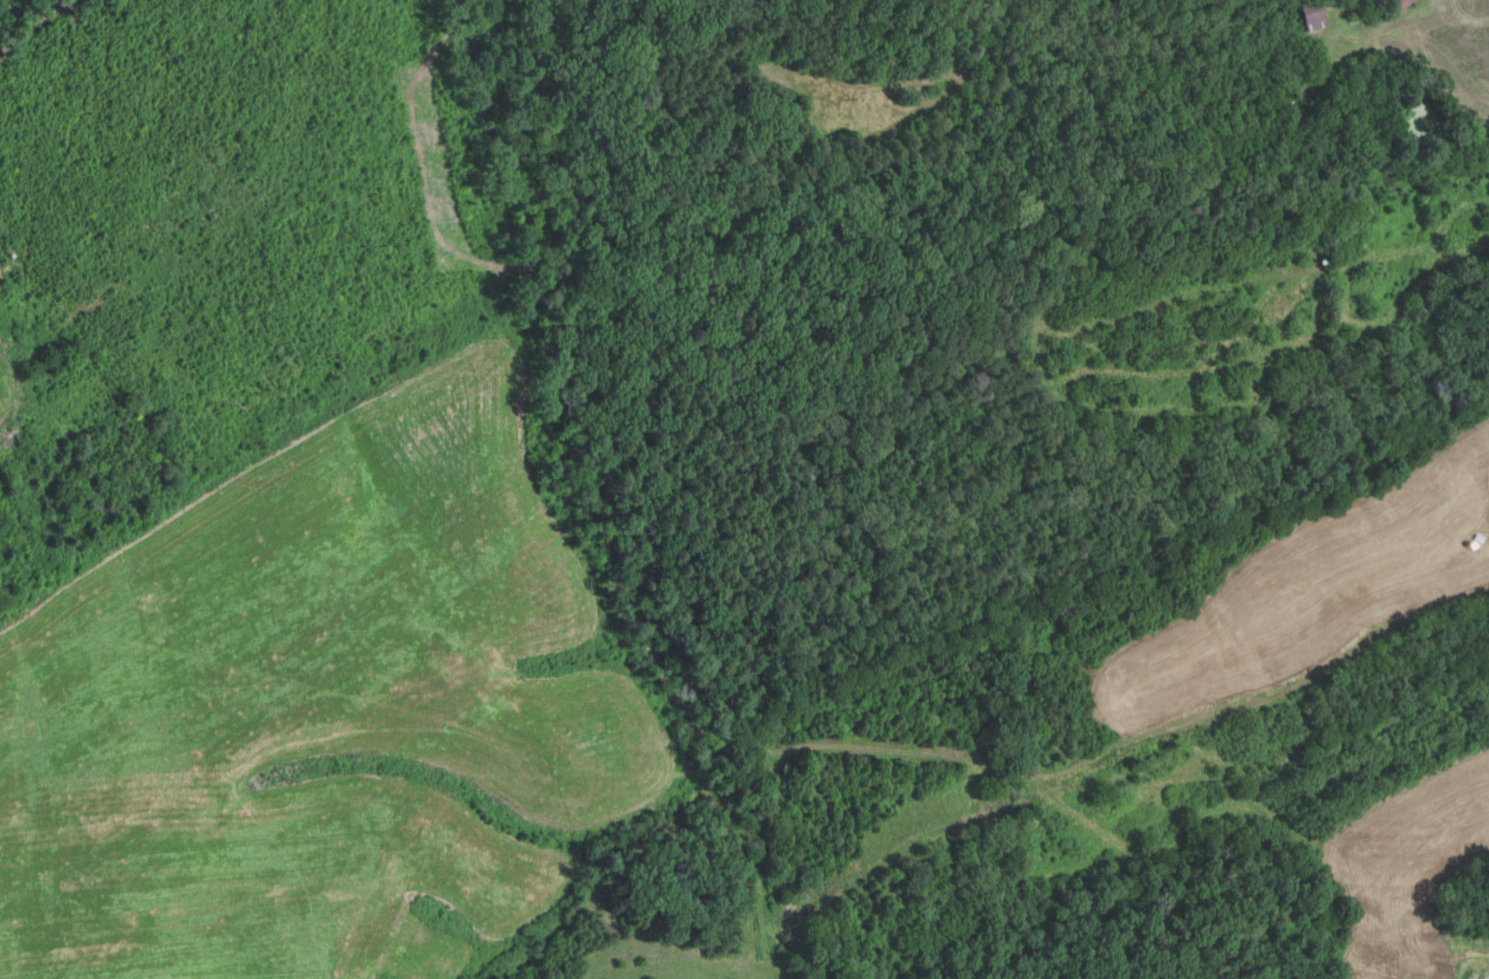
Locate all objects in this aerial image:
building: (1396, 4)
building: (1309, 15)
building: (1477, 538)

